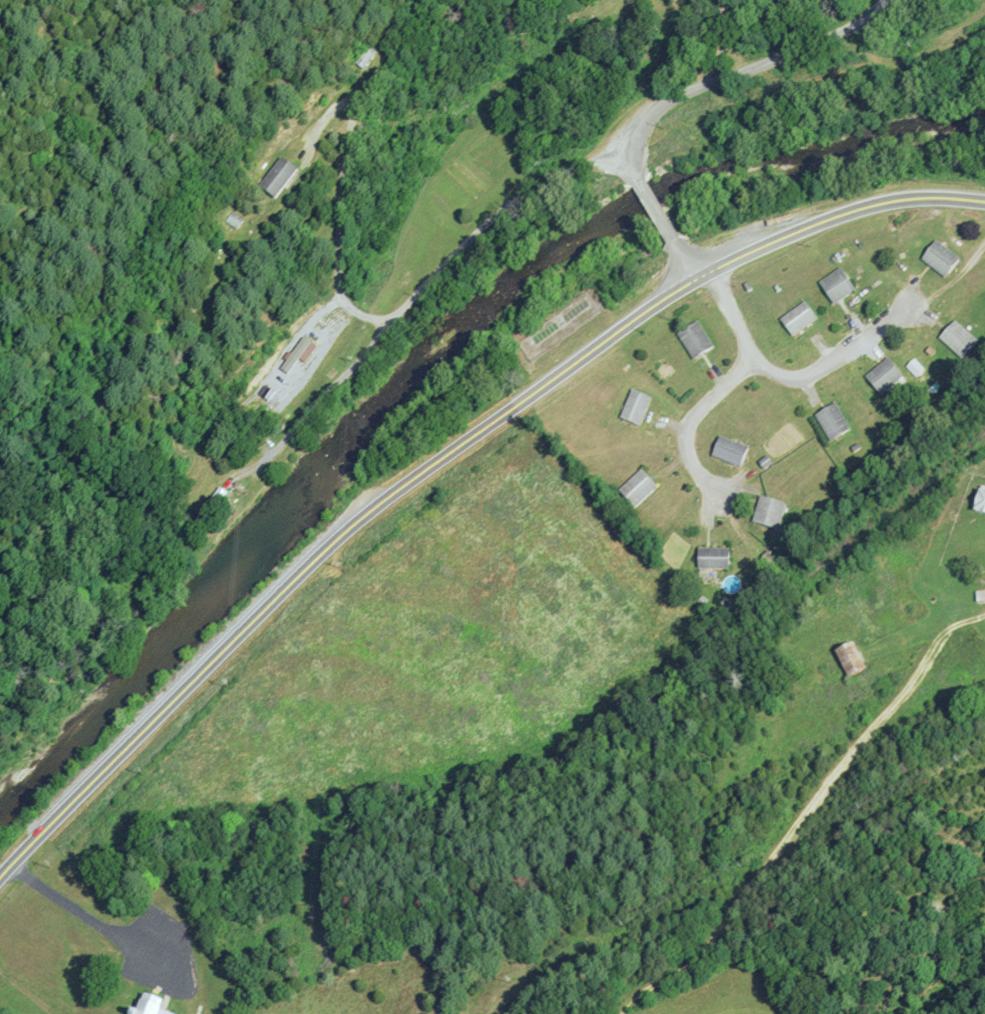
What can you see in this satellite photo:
building: (603, 3)
building: (365, 57)
road: (742, 72)
building: (275, 177)
road: (655, 207)
building: (233, 219)
road: (683, 254)
building: (940, 260)
building: (837, 286)
road: (377, 315)
building: (798, 320)
building: (958, 339)
building: (695, 341)
river: (432, 358)
building: (884, 376)
road: (786, 379)
road: (321, 395)
building: (636, 407)
road: (696, 419)
building: (832, 422)
road: (441, 450)
building: (730, 452)
building: (638, 488)
building: (981, 503)
building: (209, 507)
building: (769, 513)
building: (714, 559)
building: (981, 596)
building: (849, 659)
road: (805, 815)
road: (80, 910)
parking lot: (160, 952)
building: (149, 1005)

